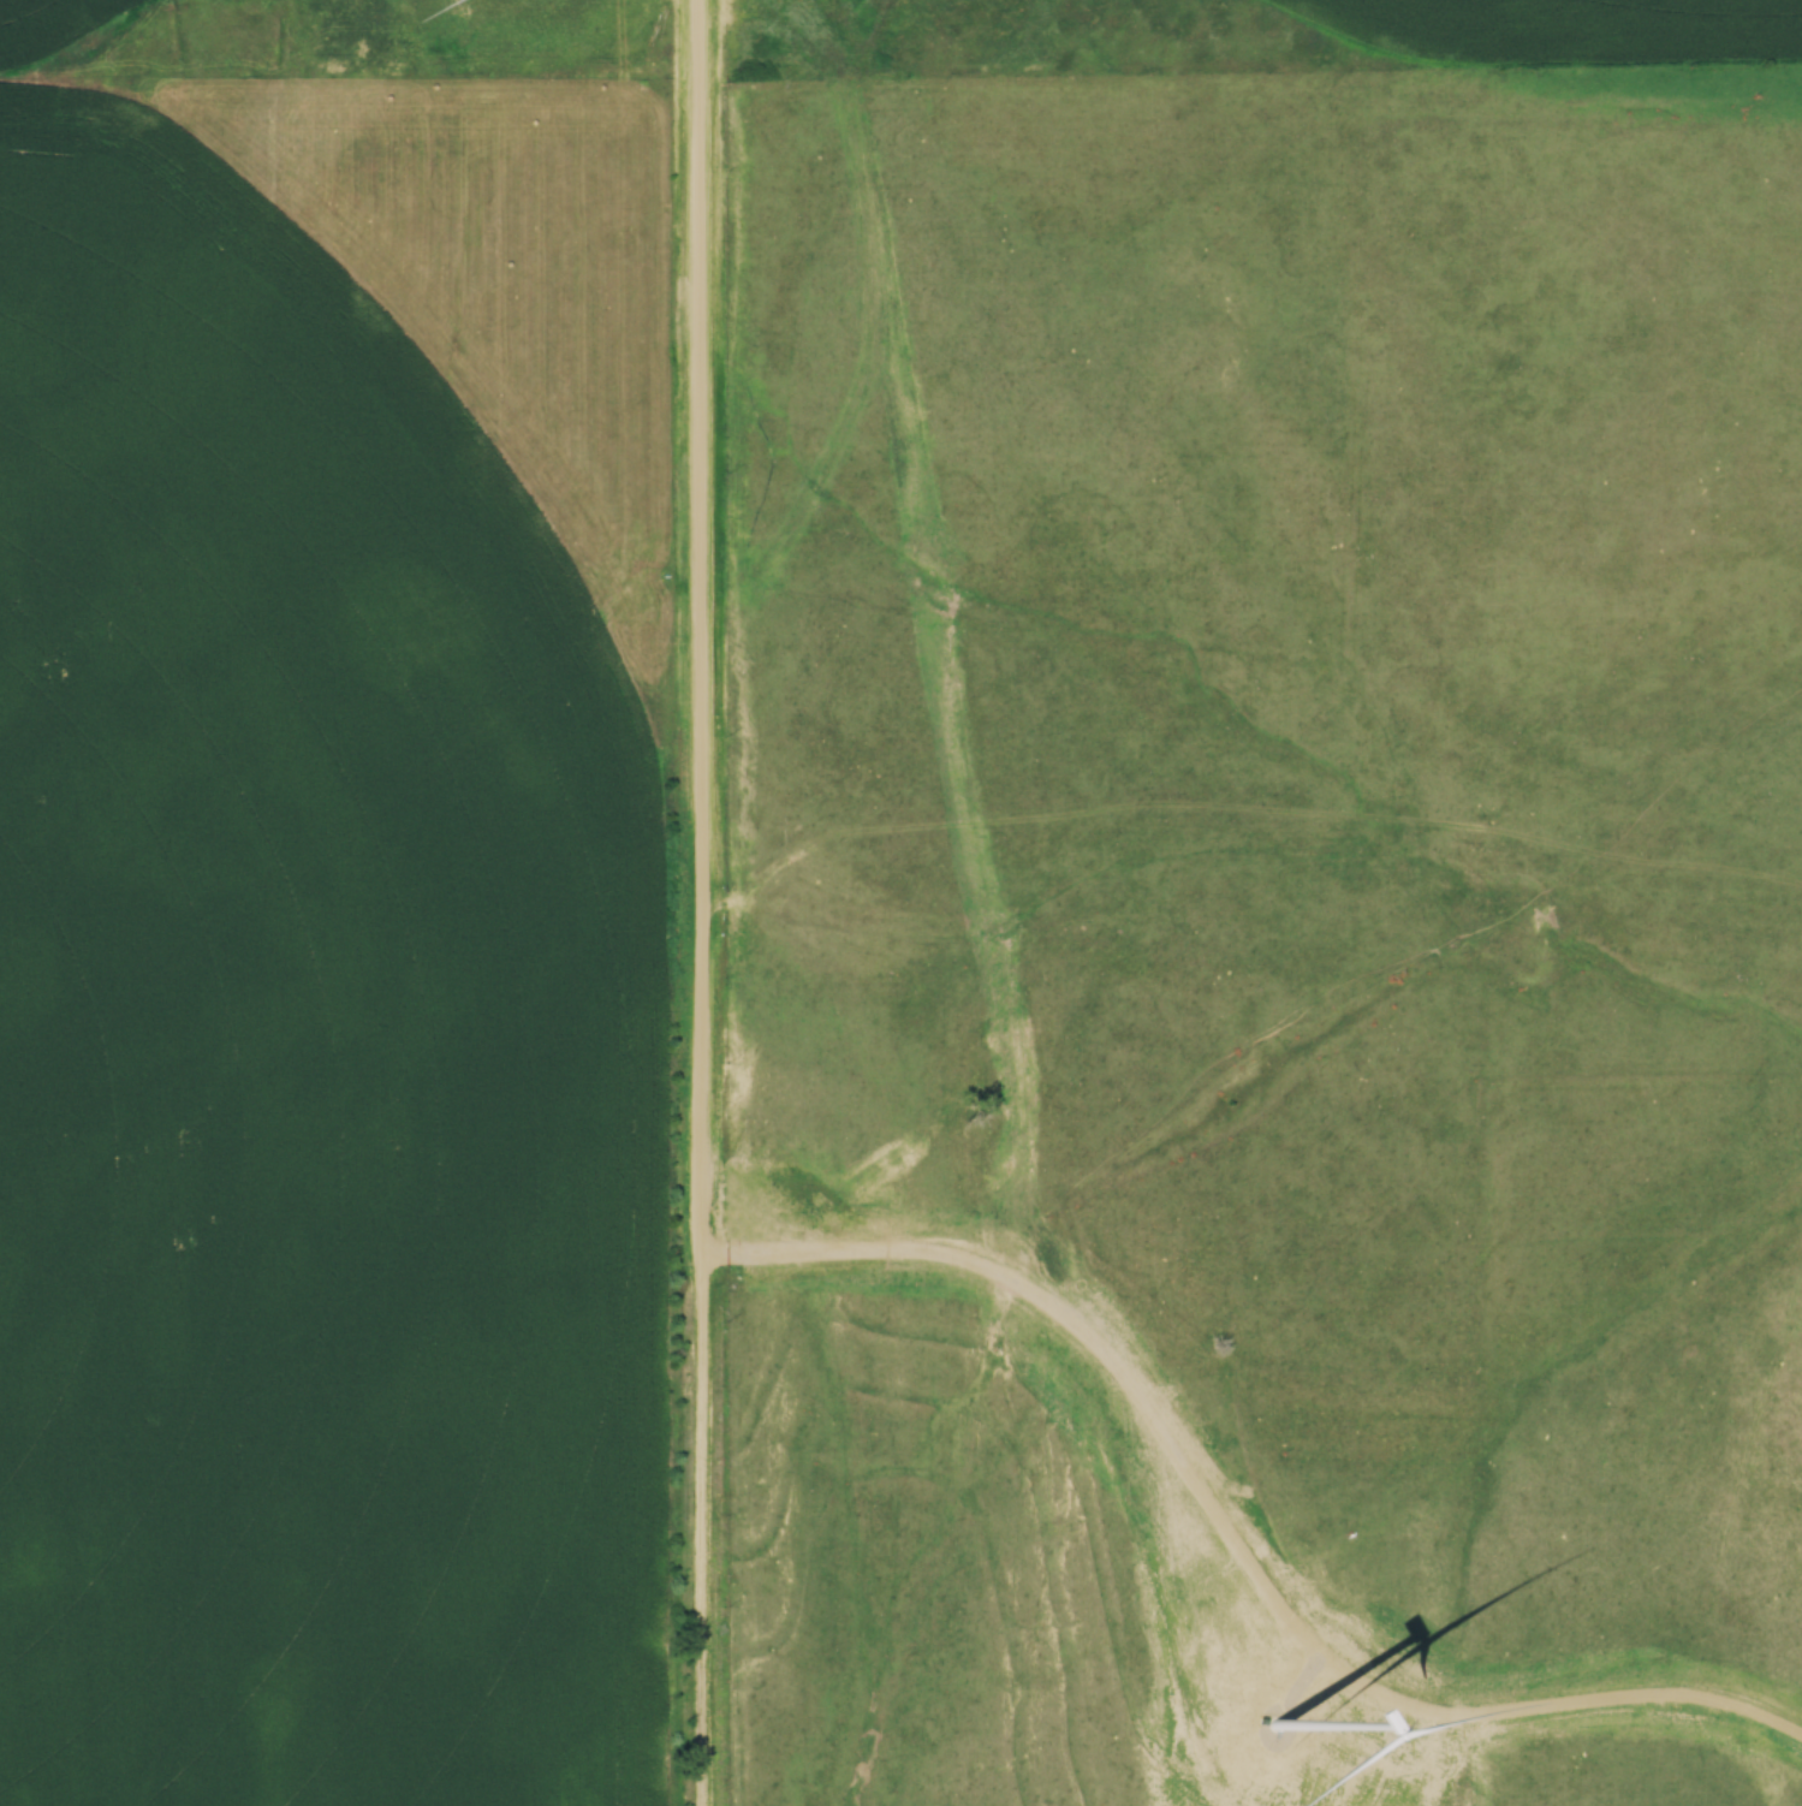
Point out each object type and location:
road: (704, 903)
wind turbine: (1275, 1724)

